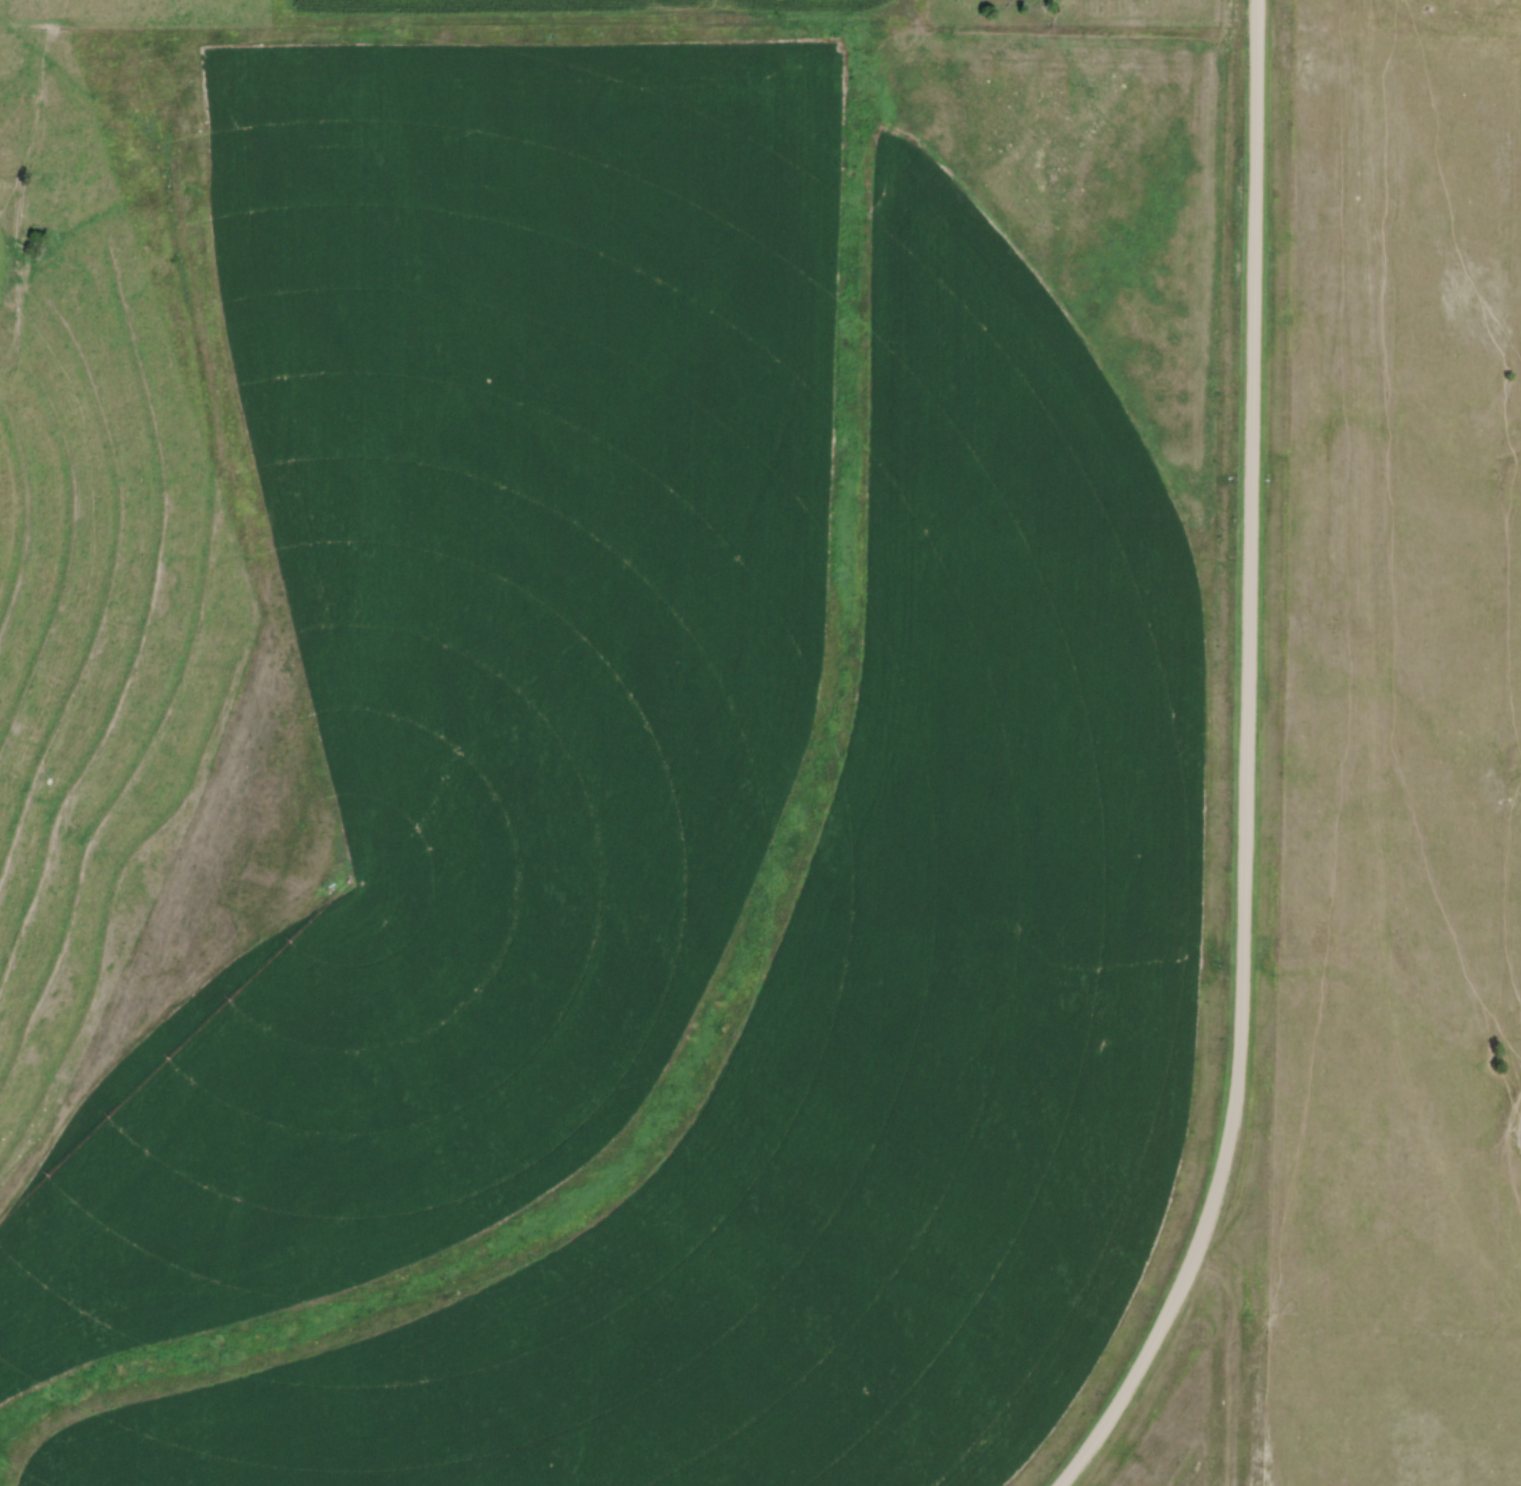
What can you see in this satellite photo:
road: (1244, 764)

